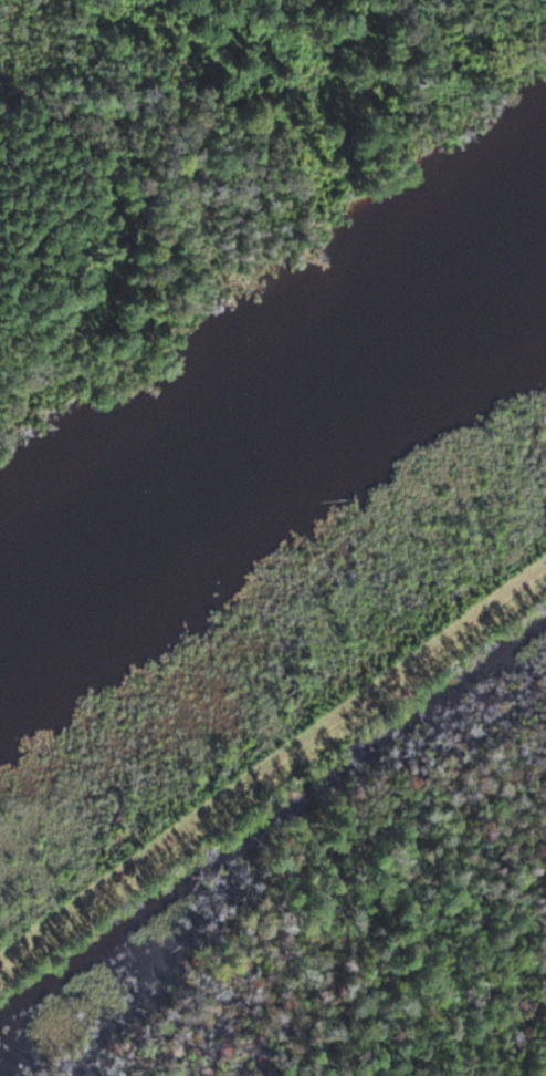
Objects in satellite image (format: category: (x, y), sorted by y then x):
road: (273, 756)

